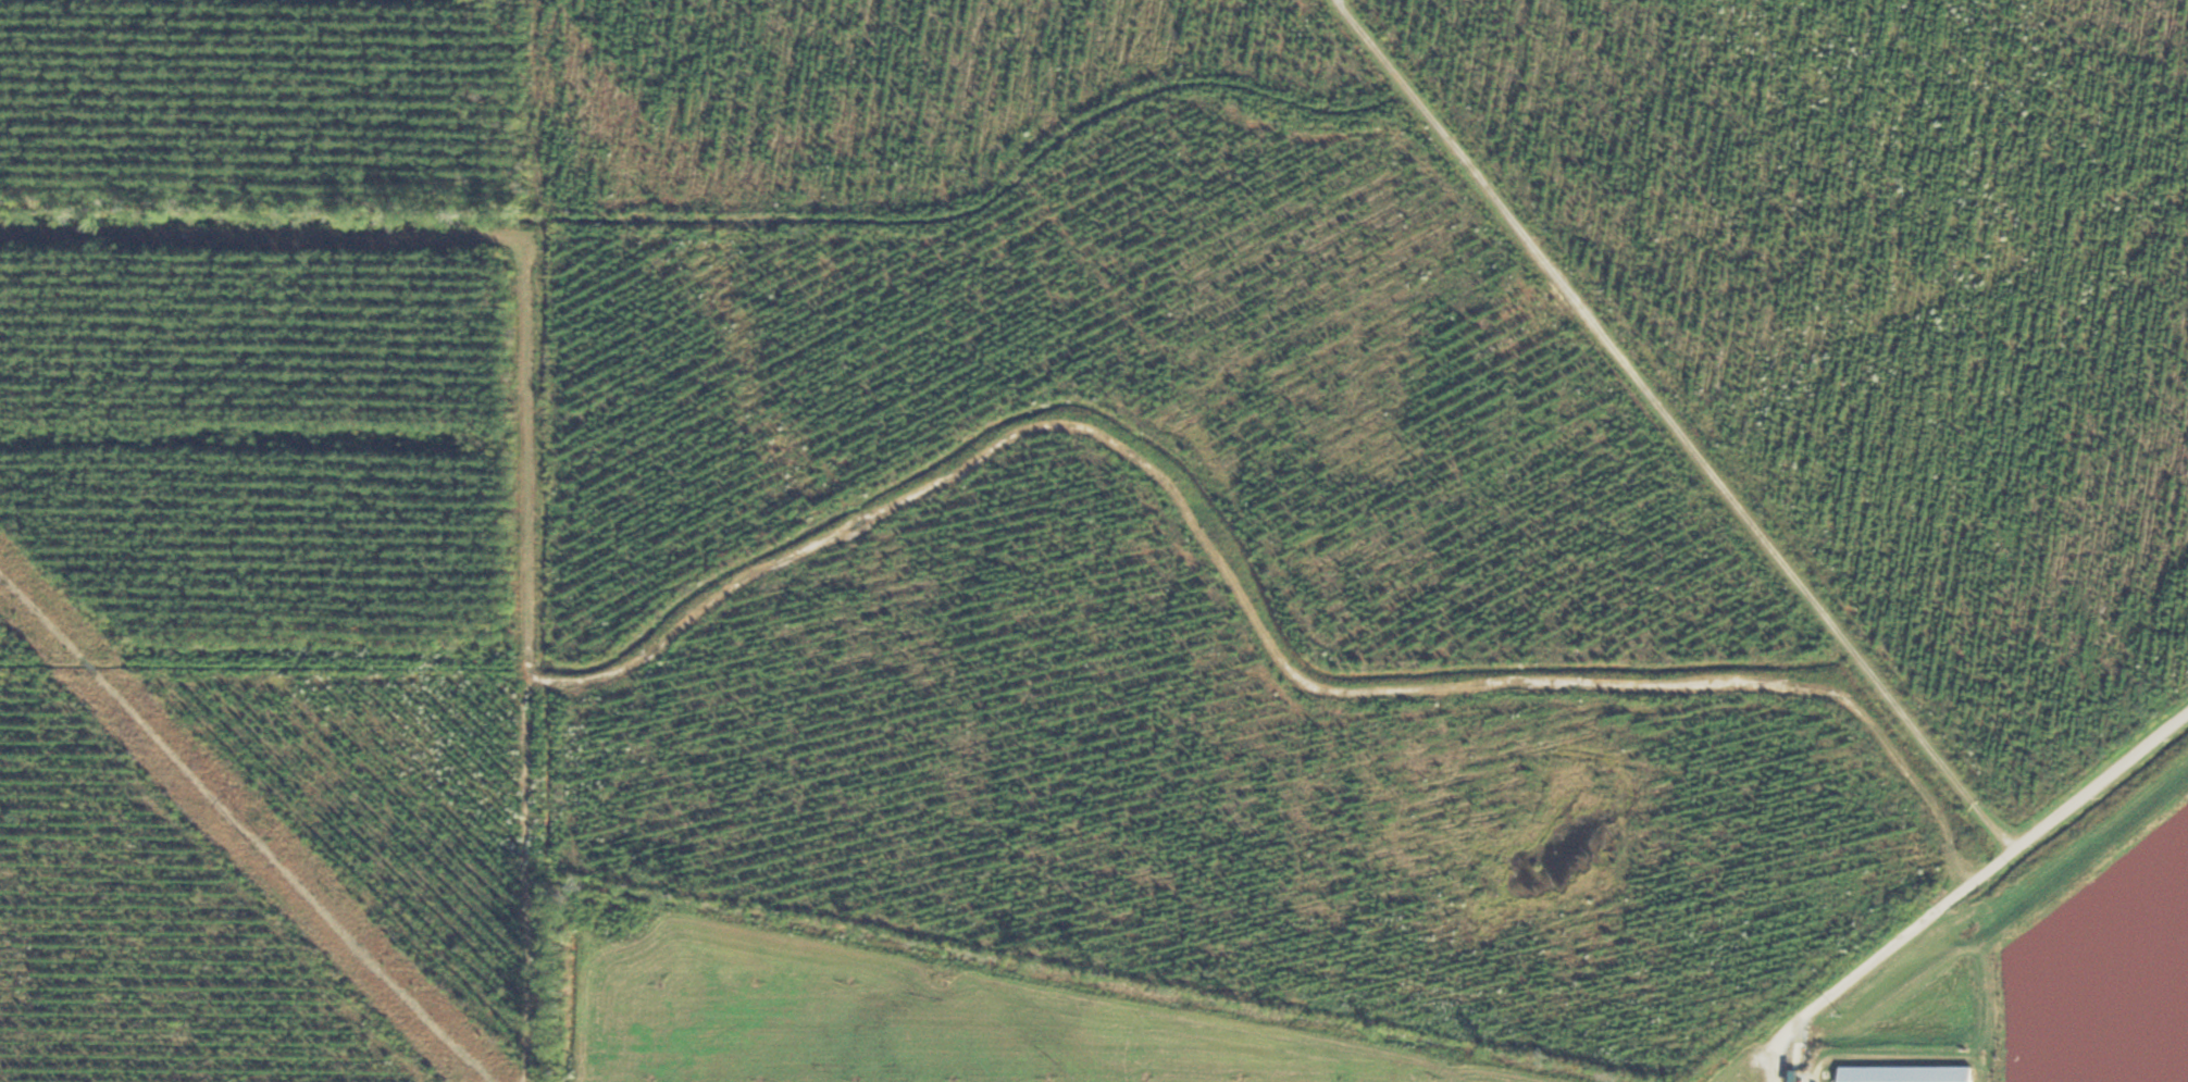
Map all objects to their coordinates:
power tower: (260, 844)
road: (1952, 895)
building: (1909, 1074)

